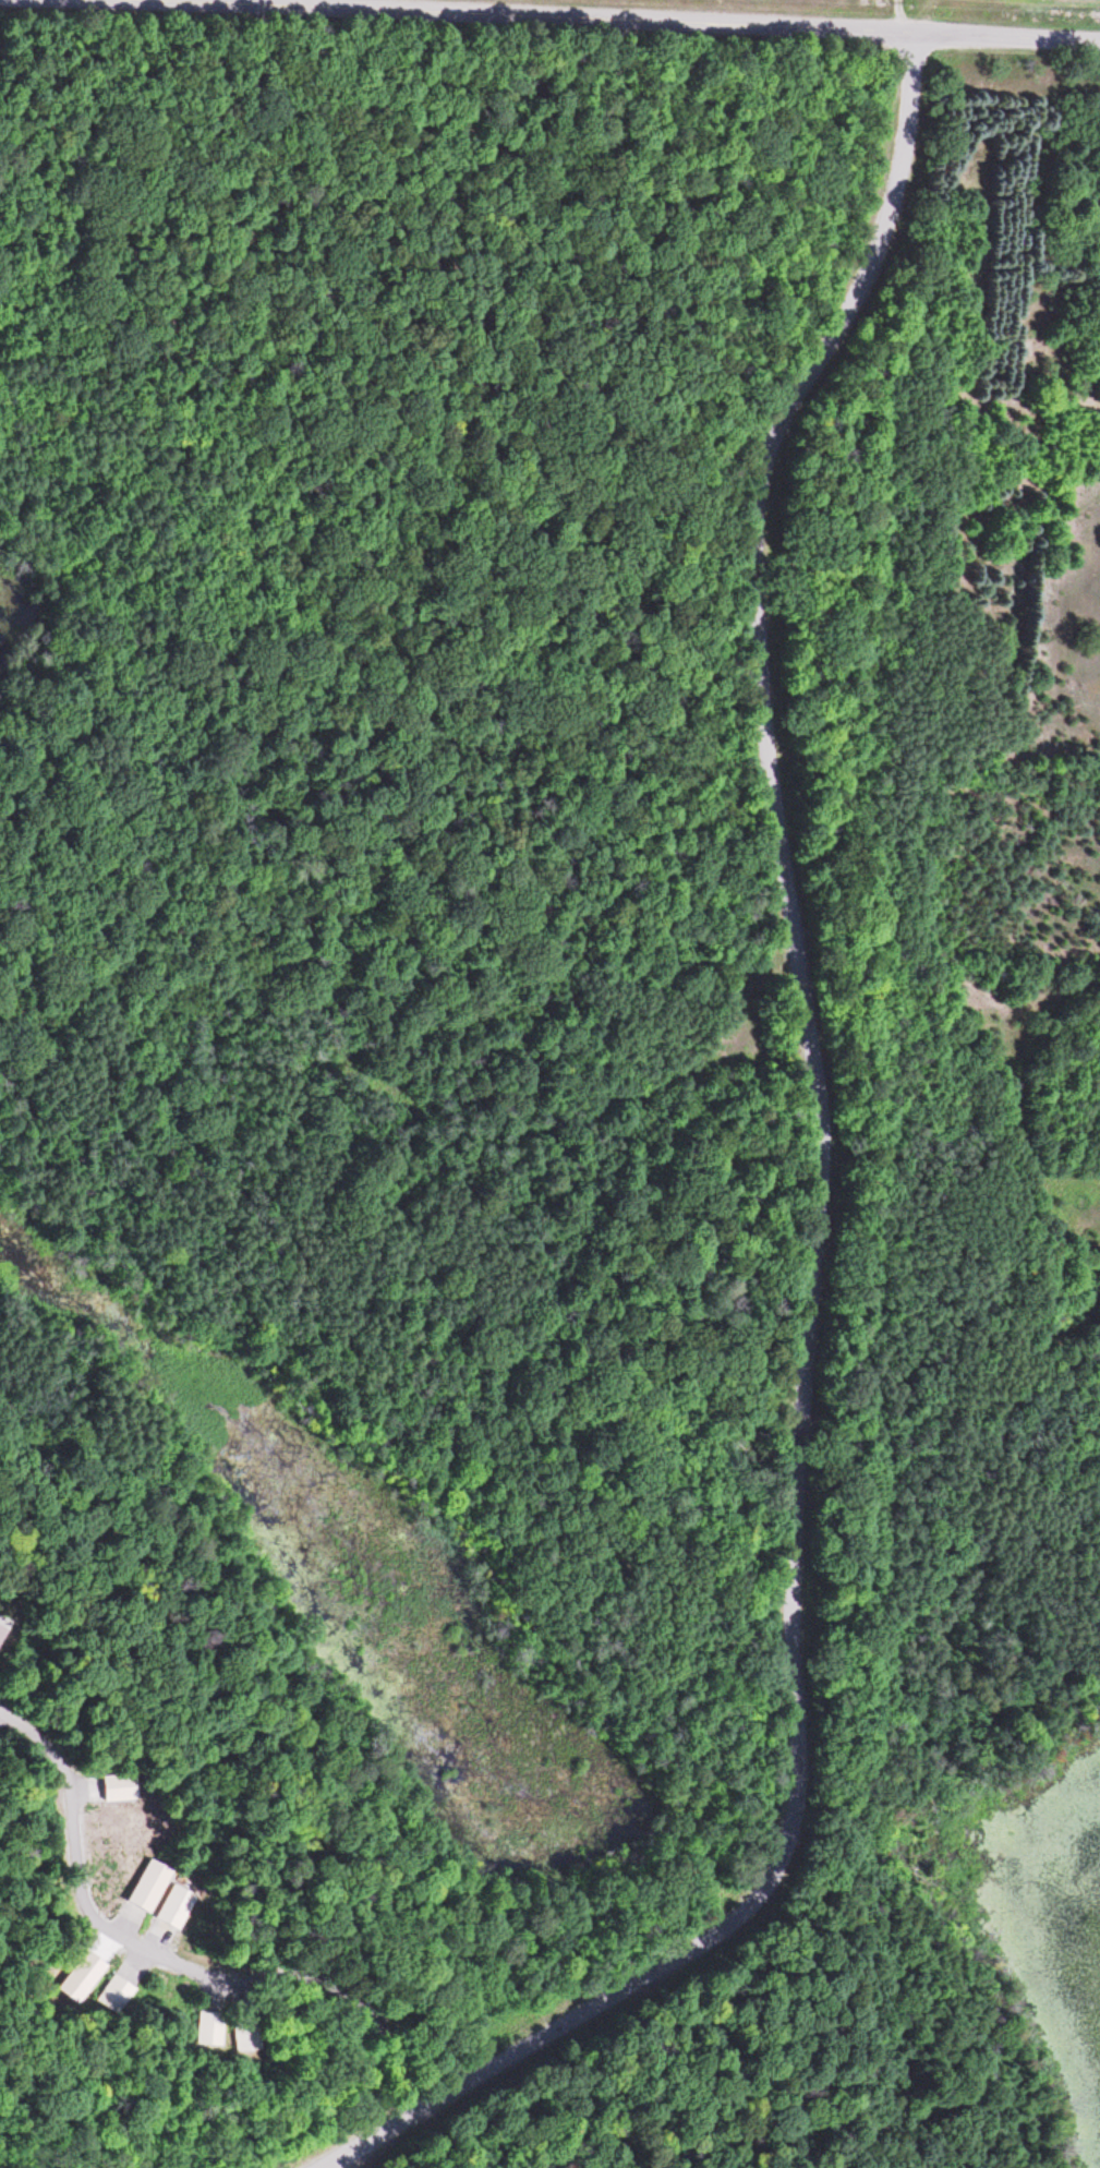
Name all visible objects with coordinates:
road: (590, 20)
road: (819, 1205)
building: (106, 1786)
building: (143, 1886)
building: (169, 1911)
road: (173, 1958)
building: (111, 1994)
building: (205, 2026)
building: (240, 2032)
road: (343, 2164)

